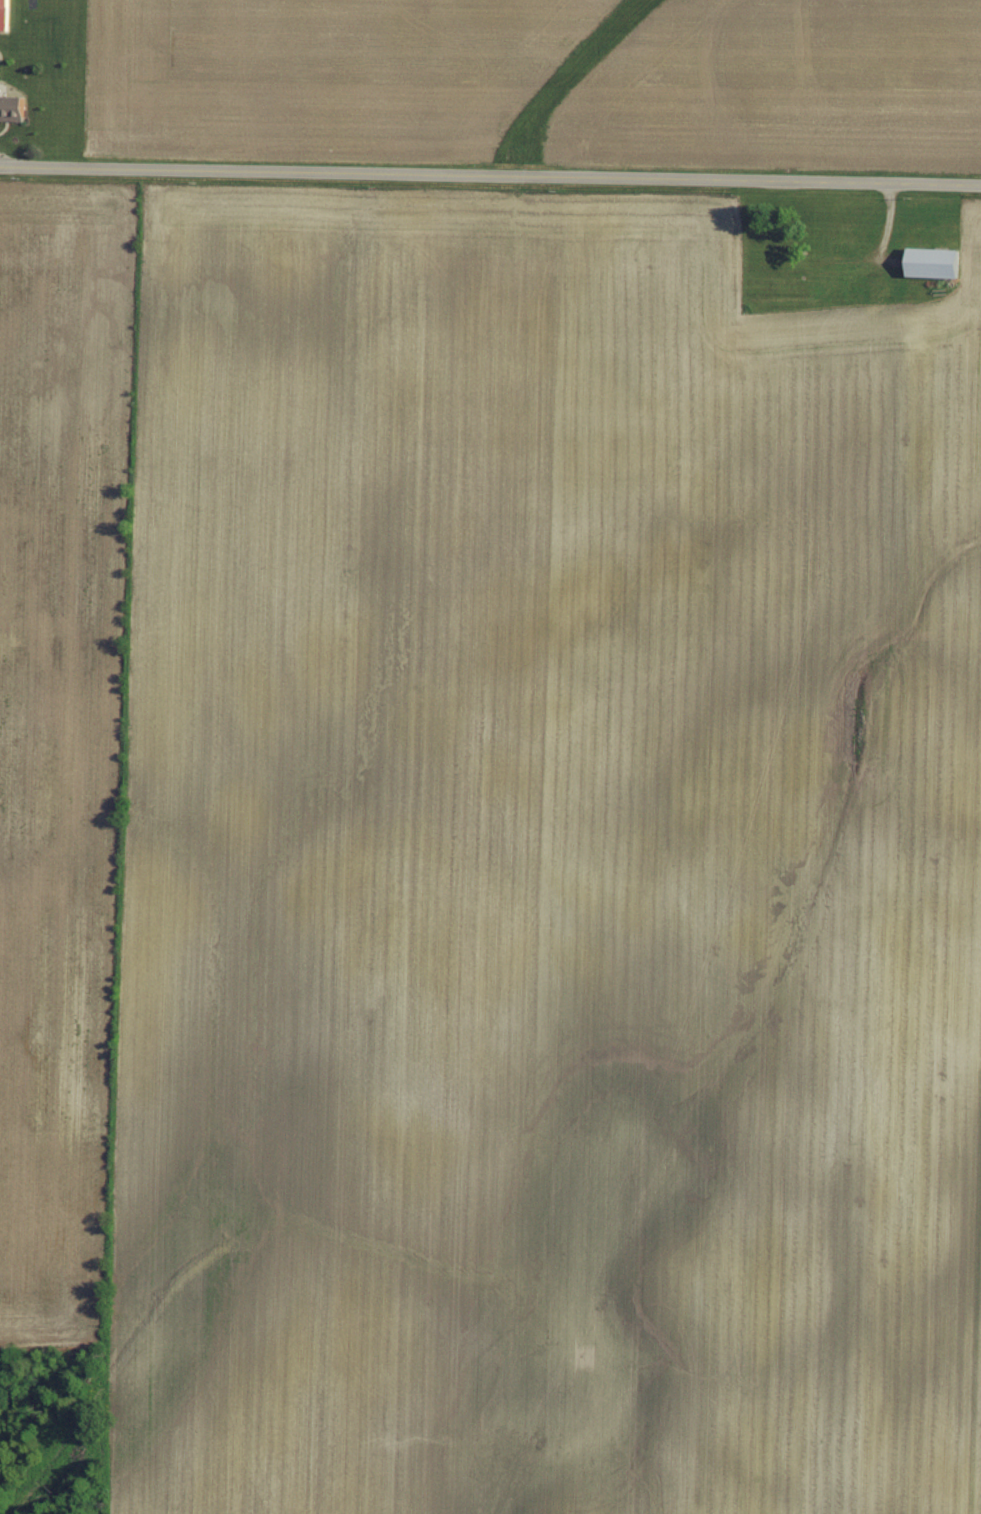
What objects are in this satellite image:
building: (7, 14)
road: (490, 177)

